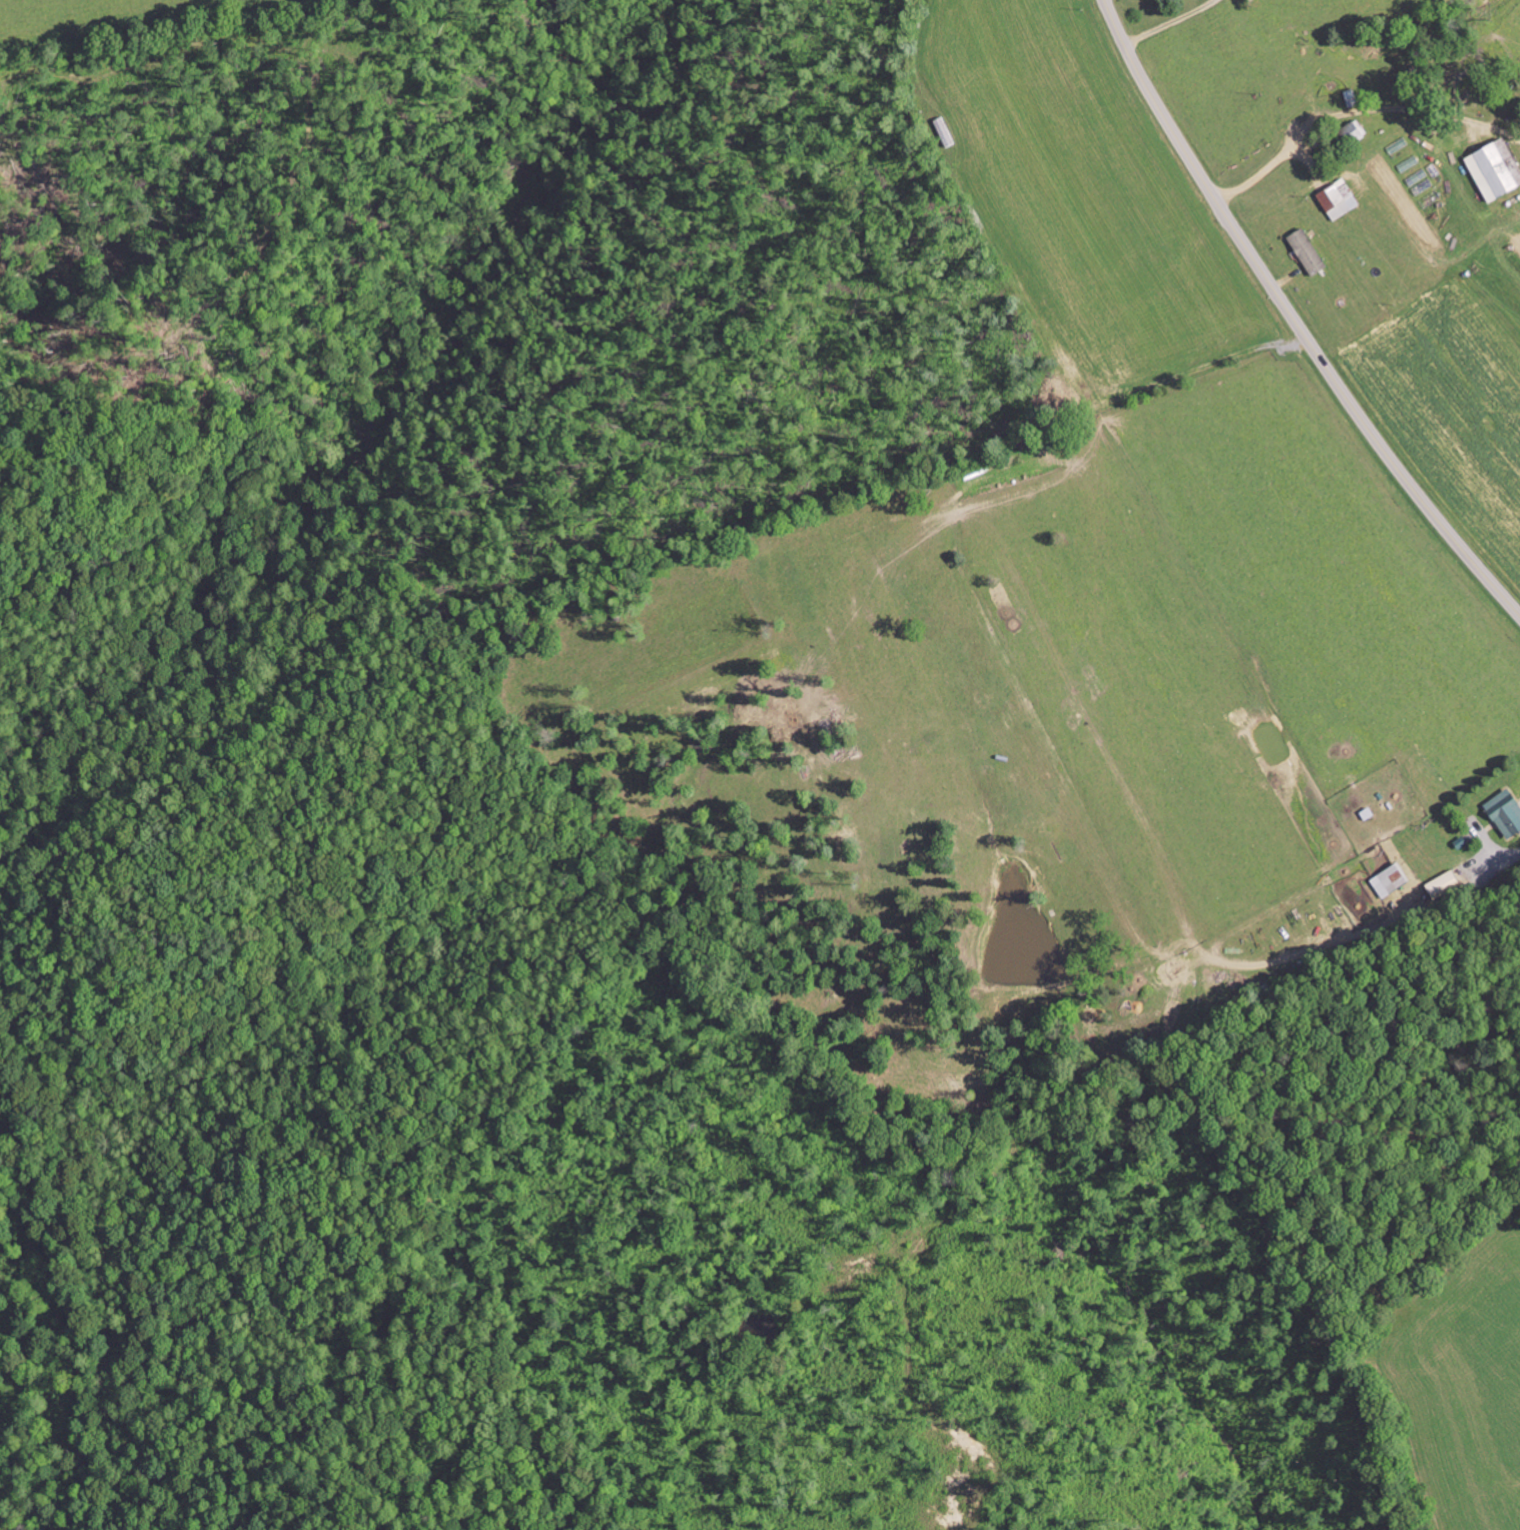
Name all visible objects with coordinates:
road: (1348, 92)
building: (1497, 169)
building: (1340, 199)
building: (1308, 251)
road: (1293, 320)
building: (1507, 812)
building: (1391, 880)

